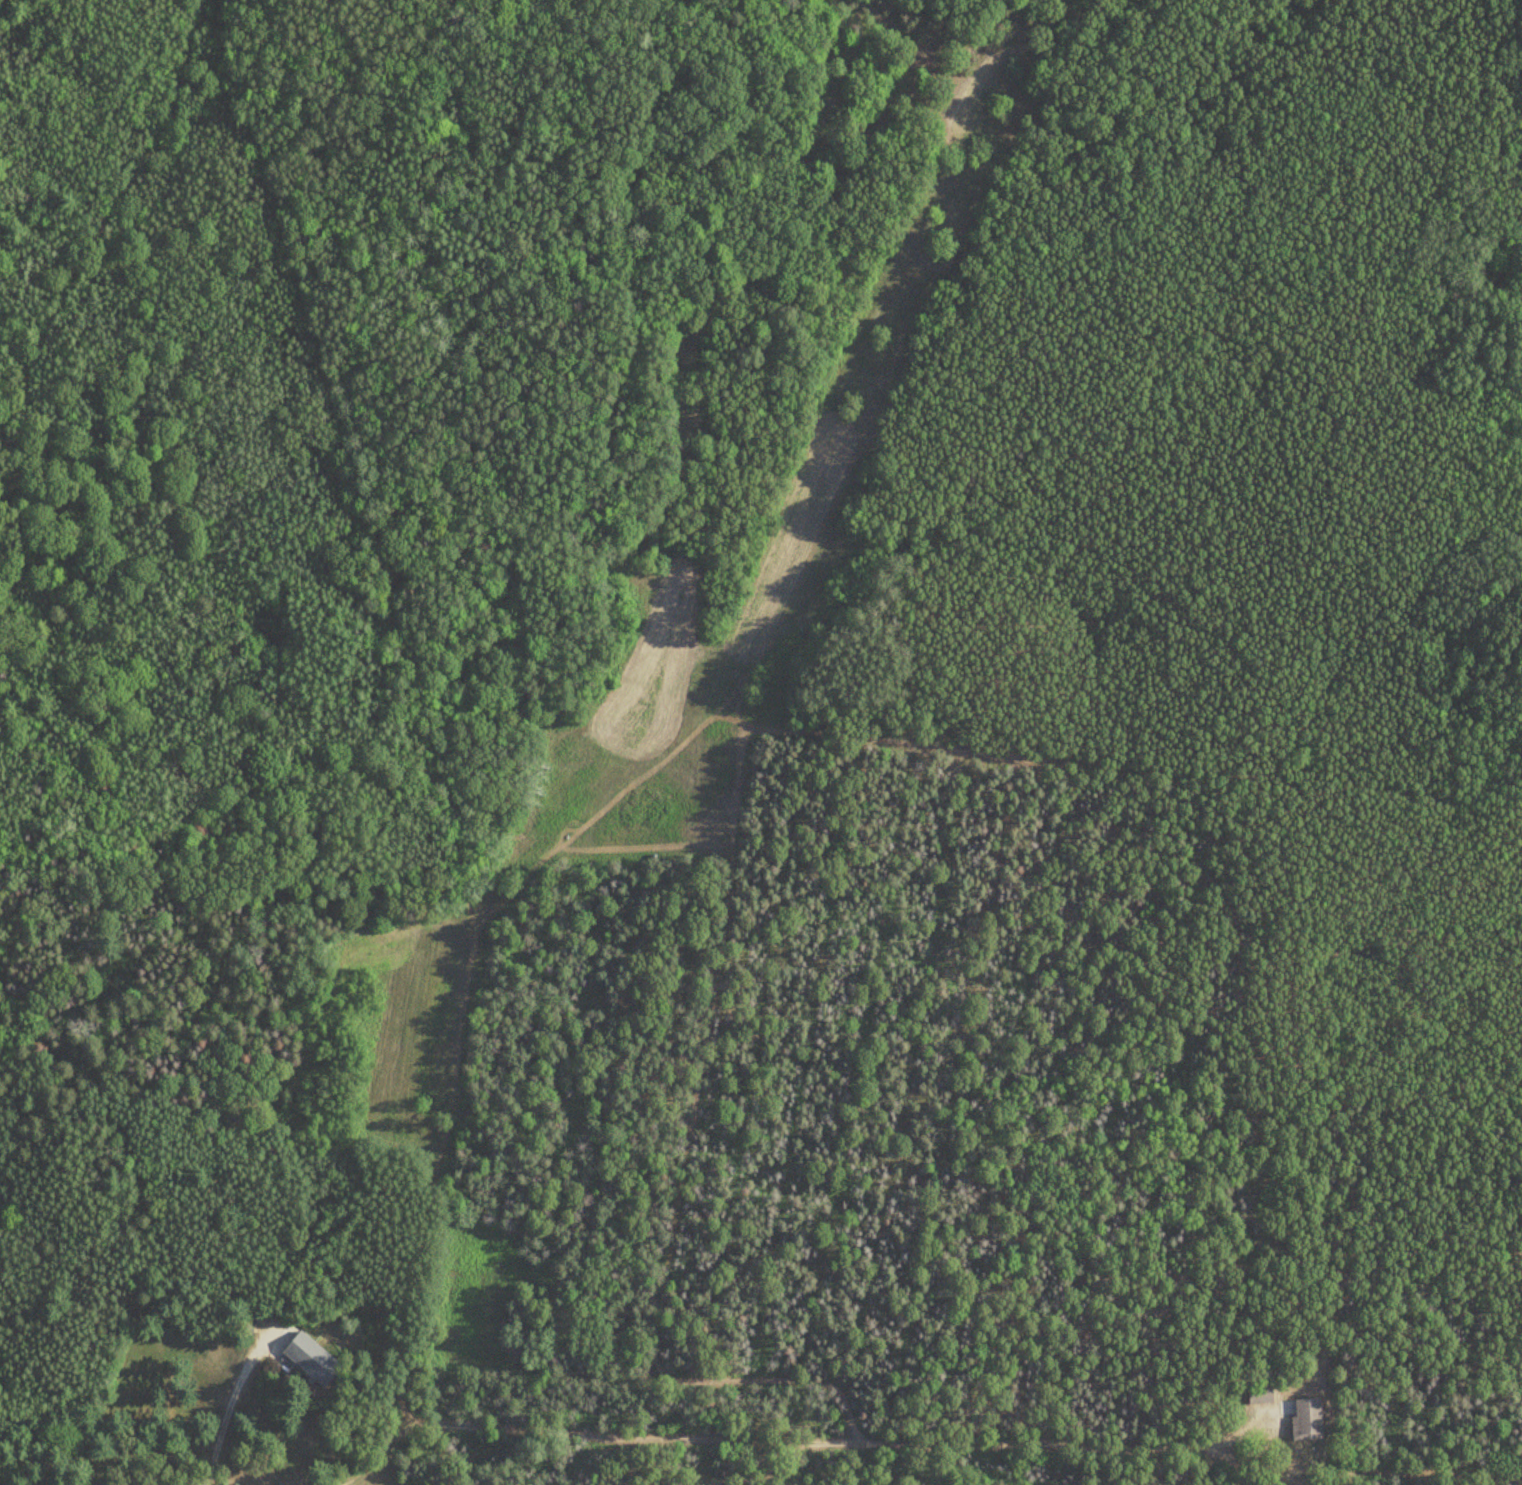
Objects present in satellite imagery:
road: (109, 225)
building: (305, 1358)
building: (1254, 1394)
building: (1302, 1419)

